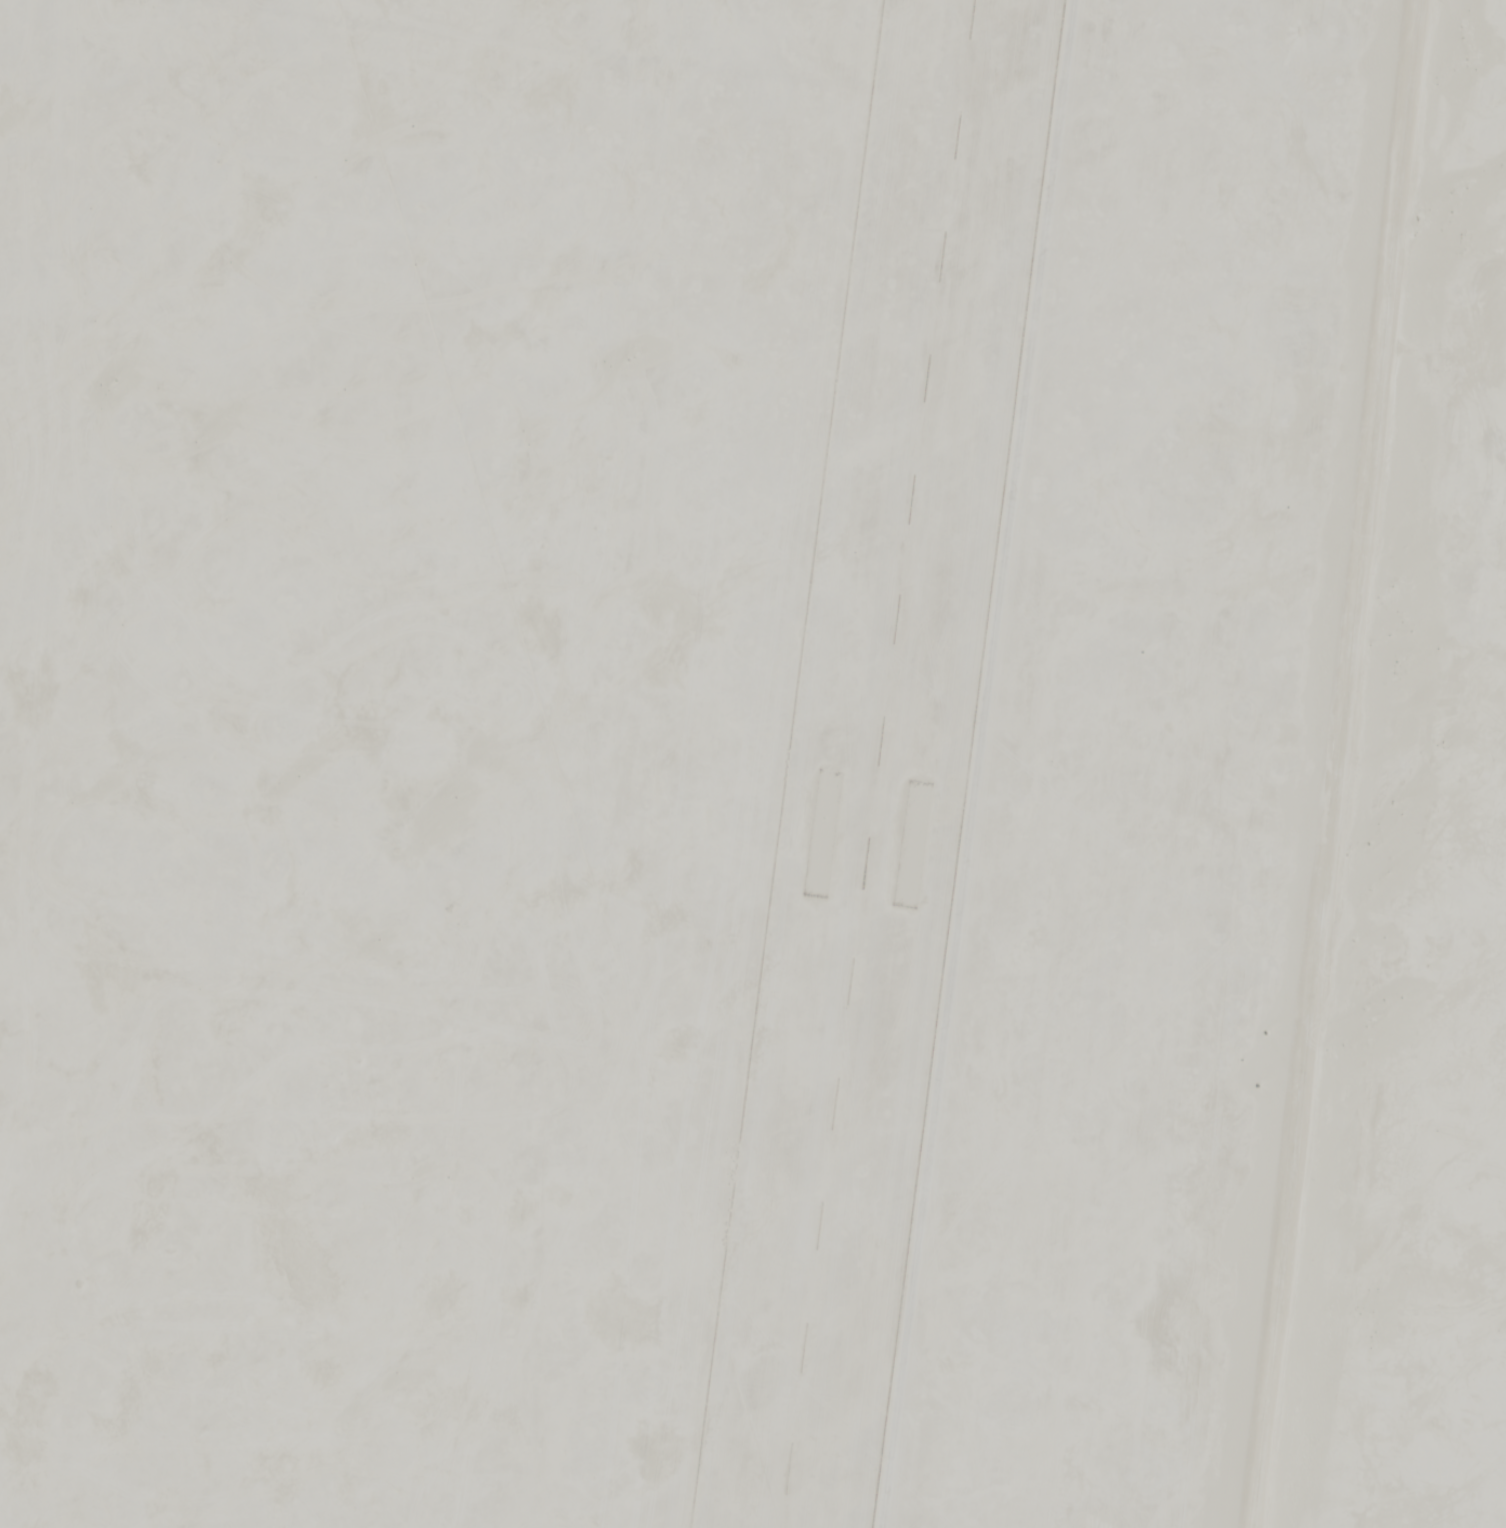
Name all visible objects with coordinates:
building: (291, 410)
building: (1496, 594)
road: (1318, 763)
airport runway: (871, 764)
building: (1494, 814)
building: (1472, 978)

